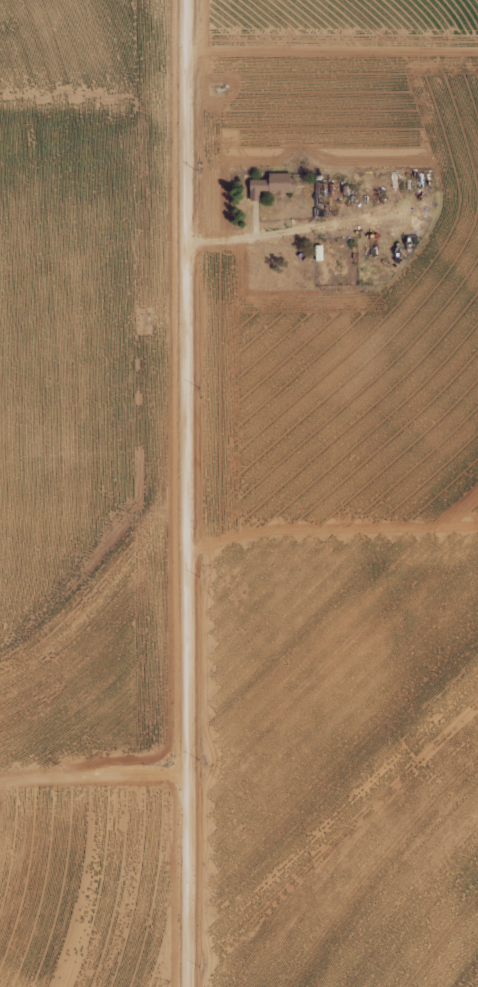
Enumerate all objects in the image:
building: (269, 185)
road: (183, 493)
road: (91, 779)

